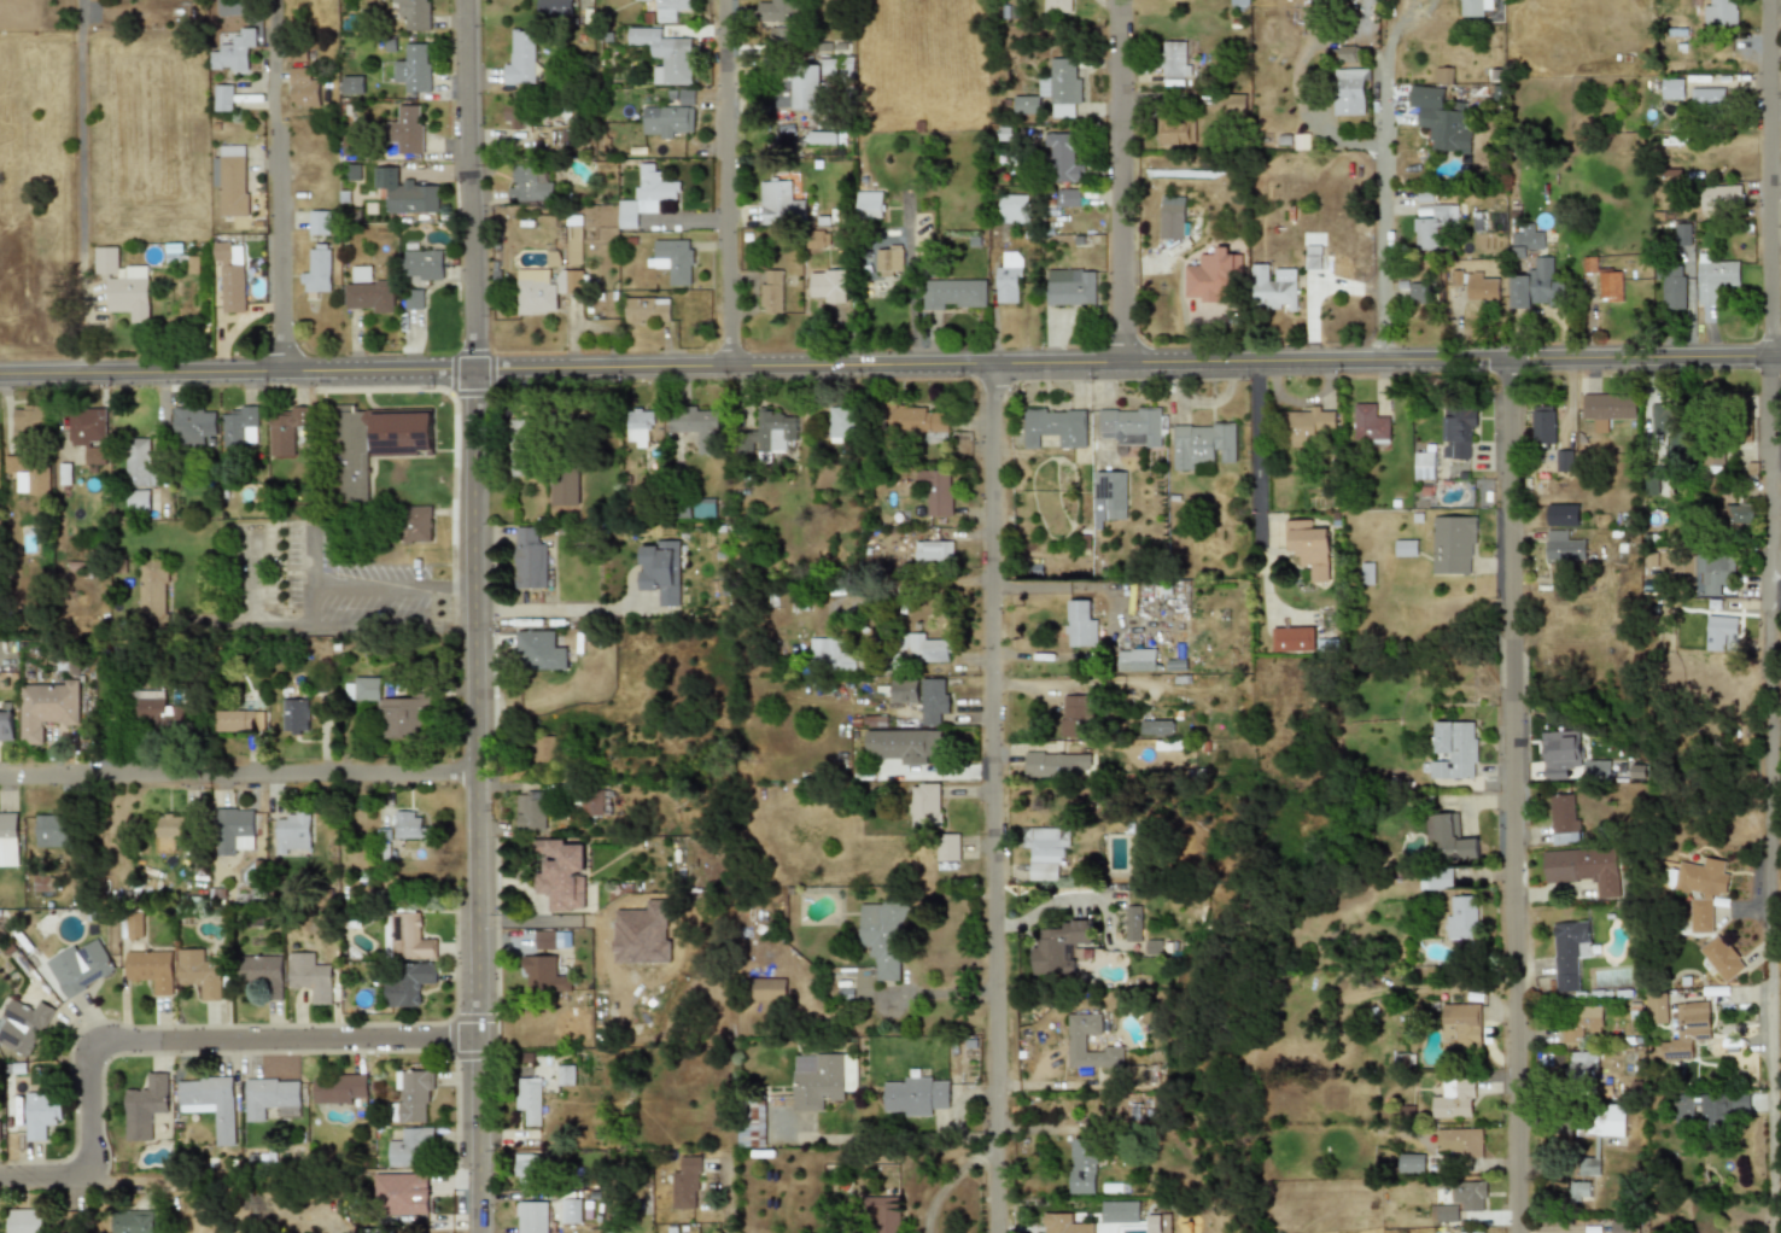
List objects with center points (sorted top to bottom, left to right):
building: (1237, 2)
building: (1056, 6)
building: (1472, 7)
building: (553, 8)
building: (668, 8)
building: (775, 11)
building: (1719, 12)
building: (415, 14)
building: (779, 36)
building: (233, 52)
building: (662, 54)
building: (519, 58)
building: (1173, 59)
building: (414, 68)
building: (810, 83)
building: (352, 84)
building: (1061, 87)
building: (302, 88)
building: (1670, 89)
building: (1348, 90)
building: (684, 97)
building: (783, 97)
building: (223, 98)
building: (1707, 98)
building: (1232, 104)
building: (1024, 105)
building: (512, 116)
building: (1440, 119)
building: (665, 121)
building: (405, 129)
building: (1173, 132)
building: (825, 138)
building: (1062, 157)
building: (230, 181)
road: (1383, 181)
road: (1125, 182)
road: (731, 183)
building: (526, 186)
road: (81, 187)
road: (280, 187)
building: (404, 193)
building: (644, 195)
building: (1067, 198)
building: (1718, 198)
building: (778, 203)
building: (868, 205)
building: (1012, 209)
building: (1170, 217)
building: (319, 222)
building: (1433, 227)
building: (1681, 234)
building: (1525, 240)
building: (572, 244)
building: (1312, 257)
building: (105, 259)
building: (672, 259)
building: (887, 262)
building: (420, 263)
building: (316, 269)
building: (360, 275)
building: (1008, 277)
building: (1211, 277)
building: (1712, 277)
building: (228, 281)
building: (1532, 285)
building: (1608, 285)
building: (1670, 285)
building: (827, 286)
building: (1069, 286)
building: (1273, 287)
building: (1481, 287)
building: (543, 290)
building: (1420, 291)
building: (770, 292)
road: (910, 292)
building: (952, 293)
building: (128, 297)
building: (367, 297)
building: (413, 298)
building: (646, 310)
road: (889, 367)
building: (1606, 408)
building: (911, 420)
building: (28, 422)
building: (839, 423)
building: (1367, 423)
building: (193, 425)
building: (1307, 425)
building: (1542, 425)
building: (239, 426)
building: (640, 426)
building: (700, 426)
building: (1129, 426)
building: (1053, 427)
building: (773, 429)
building: (288, 431)
building: (1456, 431)
building: (1670, 431)
building: (401, 433)
building: (933, 438)
building: (87, 439)
building: (1201, 444)
building: (521, 446)
road: (1255, 454)
building: (350, 455)
building: (1563, 460)
building: (139, 462)
building: (12, 463)
building: (1423, 466)
building: (68, 473)
building: (36, 479)
building: (1648, 484)
building: (565, 486)
building: (935, 491)
building: (1106, 497)
building: (136, 499)
building: (702, 508)
building: (1563, 514)
building: (1734, 514)
building: (415, 524)
building: (1452, 544)
building: (1564, 547)
building: (1309, 548)
building: (1403, 548)
building: (932, 550)
building: (1651, 557)
building: (529, 559)
building: (660, 571)
building: (1716, 572)
road: (308, 578)
road: (392, 583)
building: (153, 586)
road: (915, 586)
road: (557, 608)
road: (478, 615)
road: (1771, 615)
road: (1114, 620)
building: (1080, 624)
road: (393, 630)
building: (1719, 633)
building: (1291, 639)
building: (919, 648)
building: (539, 650)
building: (831, 655)
building: (1137, 660)
building: (903, 690)
building: (932, 700)
building: (47, 708)
building: (390, 708)
building: (160, 713)
building: (296, 714)
building: (1074, 715)
building: (239, 721)
building: (6, 725)
building: (1156, 726)
building: (903, 744)
building: (544, 749)
building: (1453, 749)
building: (1560, 754)
building: (1058, 765)
building: (1637, 771)
building: (1595, 772)
road: (240, 782)
road: (1516, 797)
road: (994, 799)
building: (594, 802)
building: (924, 802)
building: (530, 811)
building: (170, 826)
building: (410, 826)
building: (52, 830)
building: (235, 831)
building: (293, 835)
building: (1449, 837)
building: (8, 838)
building: (948, 848)
building: (1045, 851)
building: (1586, 869)
building: (561, 875)
building: (42, 881)
building: (1701, 889)
building: (1461, 918)
building: (1133, 923)
building: (133, 924)
building: (407, 935)
building: (883, 937)
building: (544, 940)
building: (1059, 947)
building: (1154, 947)
building: (1567, 952)
building: (1721, 958)
building: (78, 966)
building: (150, 970)
building: (198, 972)
building: (262, 972)
building: (542, 974)
building: (310, 977)
building: (409, 984)
building: (767, 989)
building: (1656, 1007)
building: (1579, 1022)
building: (23, 1025)
building: (1459, 1028)
building: (1686, 1030)
building: (1075, 1040)
road: (181, 1052)
building: (1581, 1064)
building: (564, 1075)
building: (823, 1080)
building: (339, 1088)
building: (413, 1095)
building: (268, 1097)
building: (915, 1097)
building: (527, 1098)
building: (1453, 1099)
building: (210, 1103)
building: (1683, 1104)
building: (144, 1106)
building: (1721, 1109)
building: (40, 1115)
building: (751, 1122)
road: (892, 1138)
building: (1595, 1140)
building: (1458, 1141)
building: (408, 1146)
building: (1412, 1163)
building: (1084, 1165)
building: (529, 1169)
road: (947, 1178)
building: (685, 1182)
building: (401, 1194)
building: (1468, 1194)
building: (570, 1211)
building: (1121, 1211)
building: (1443, 1212)
building: (886, 1214)
building: (532, 1217)
building: (24, 1221)
building: (134, 1221)
building: (1065, 1225)
building: (1621, 1227)
road: (725, 1229)
building: (1470, 1232)

